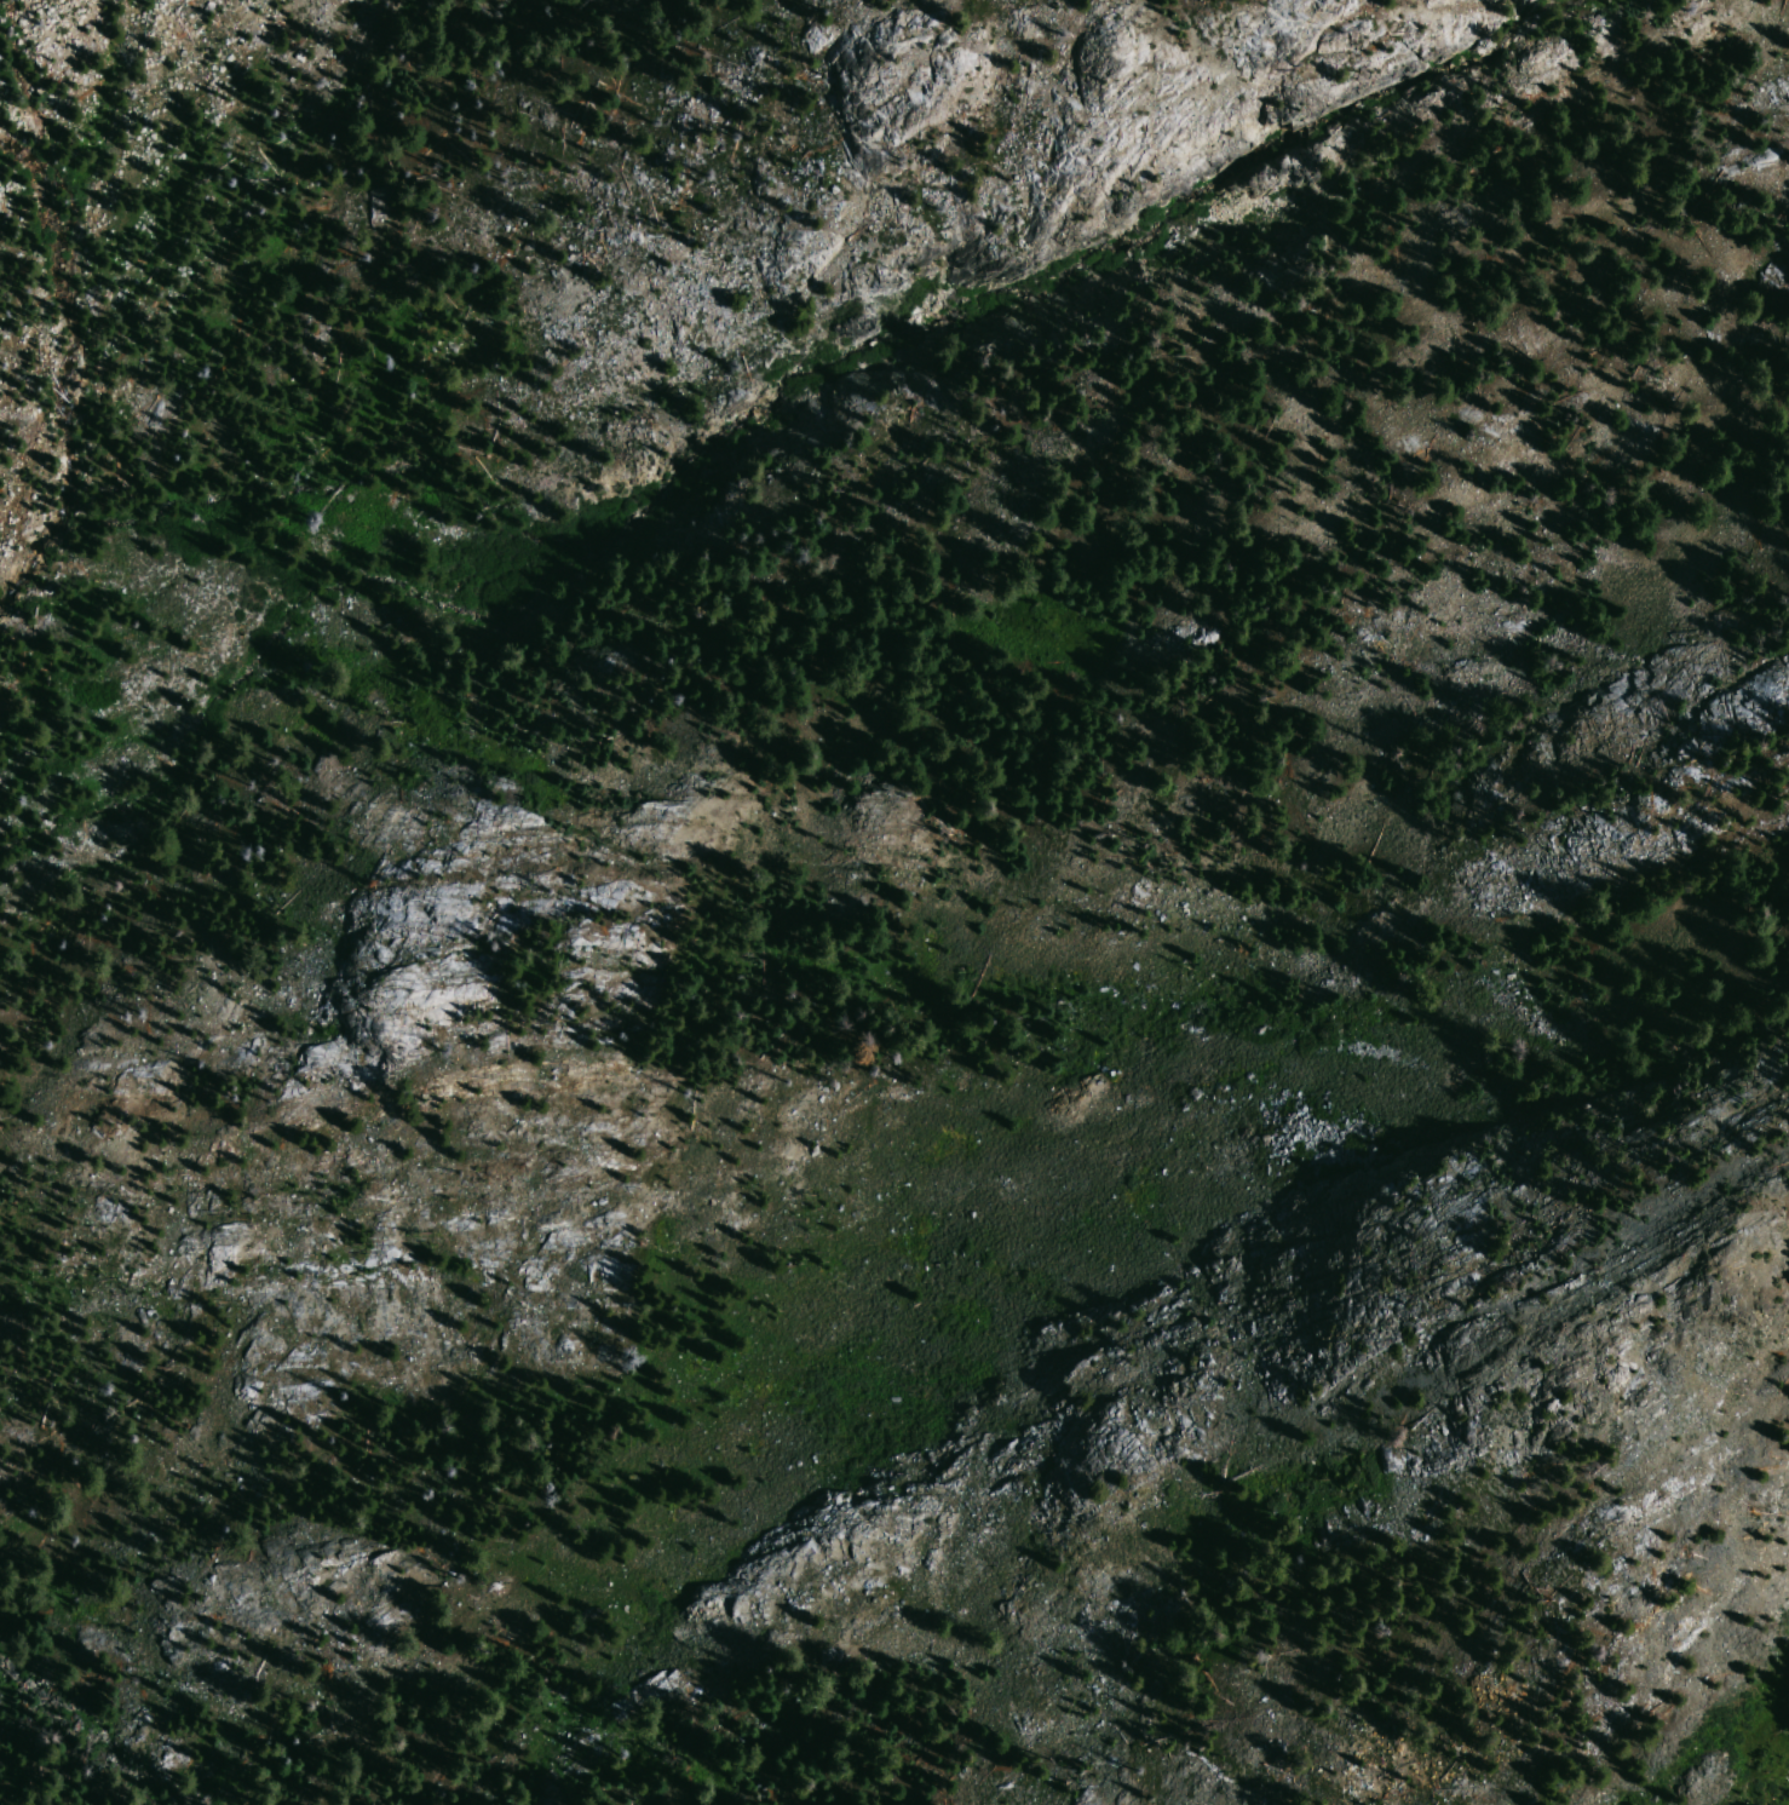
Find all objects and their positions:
road: (1783, 1799)

